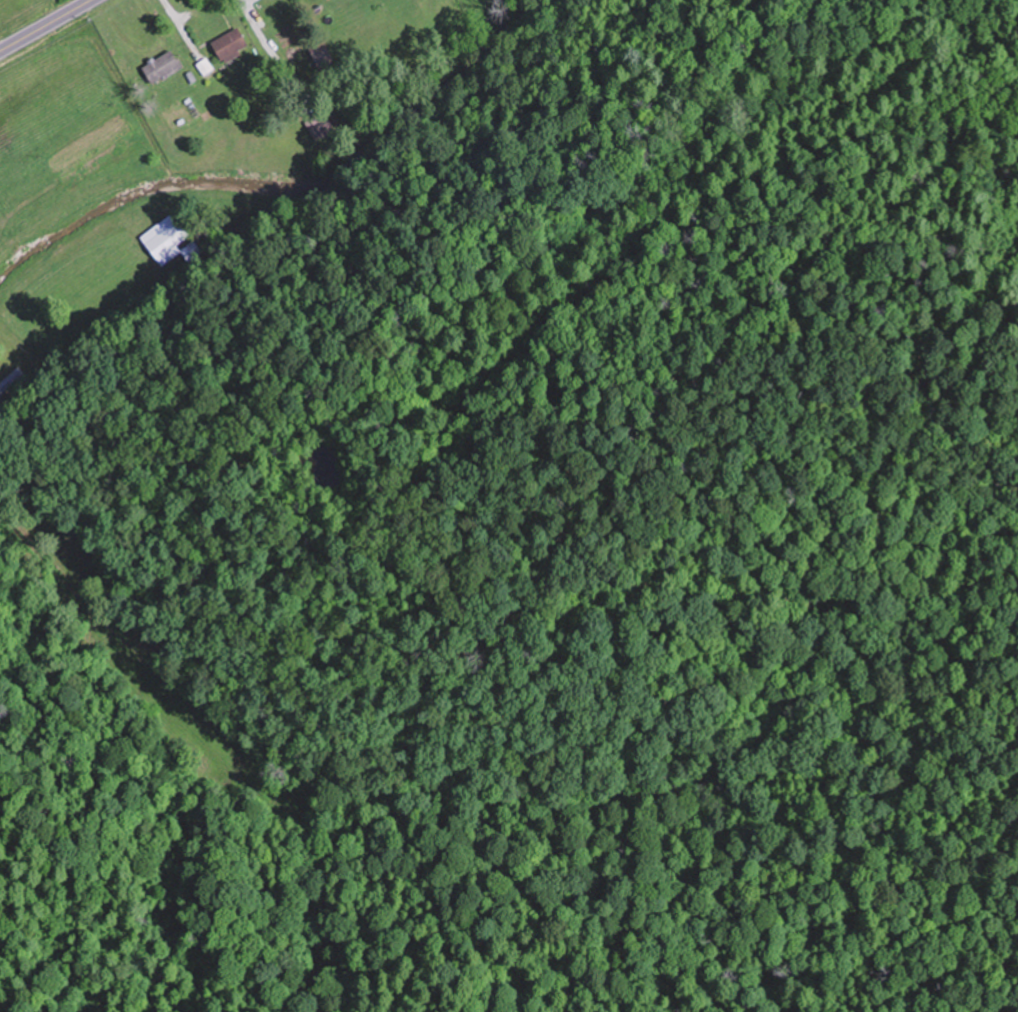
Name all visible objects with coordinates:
road: (45, 25)
building: (232, 43)
building: (323, 57)
building: (318, 124)
building: (173, 244)
building: (10, 379)

